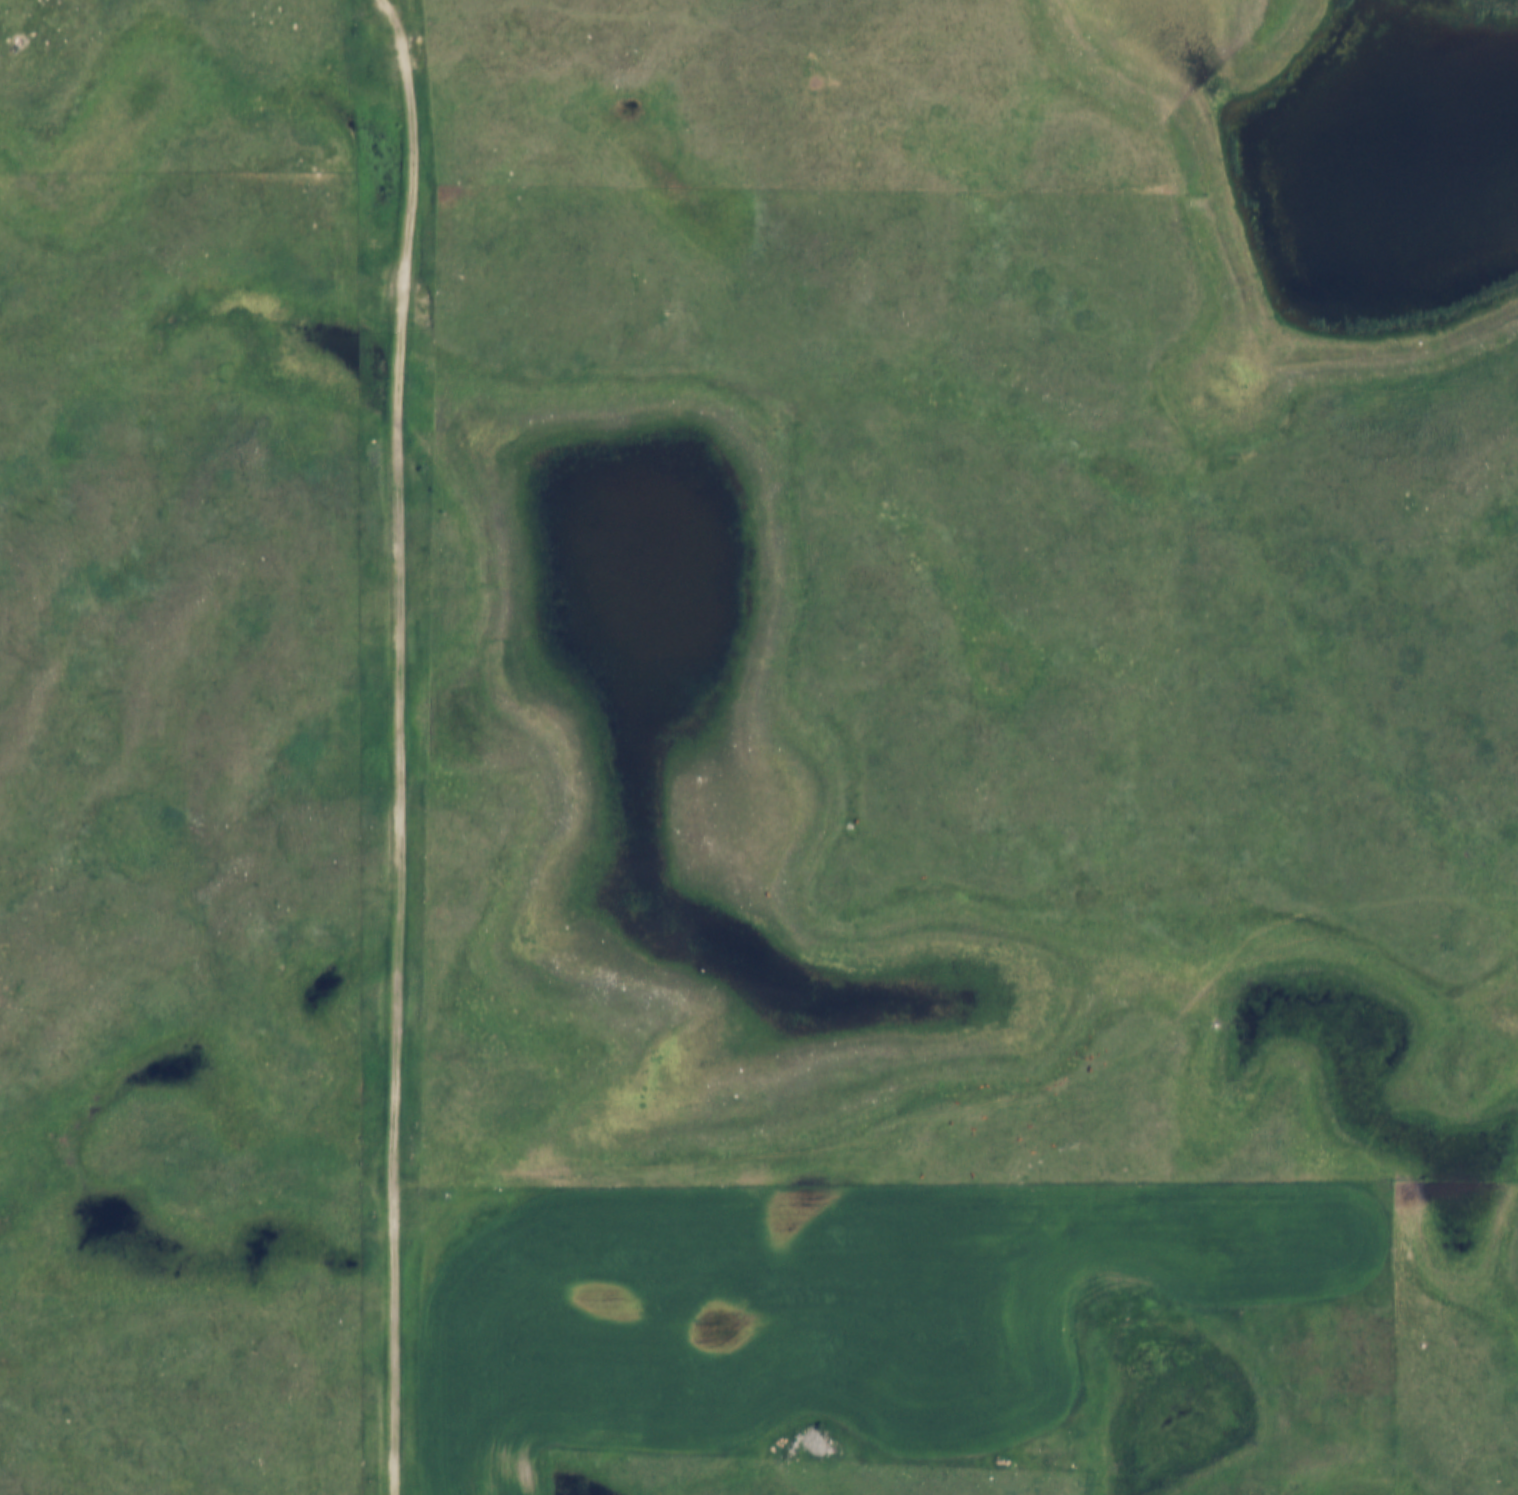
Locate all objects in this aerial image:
road: (397, 746)

